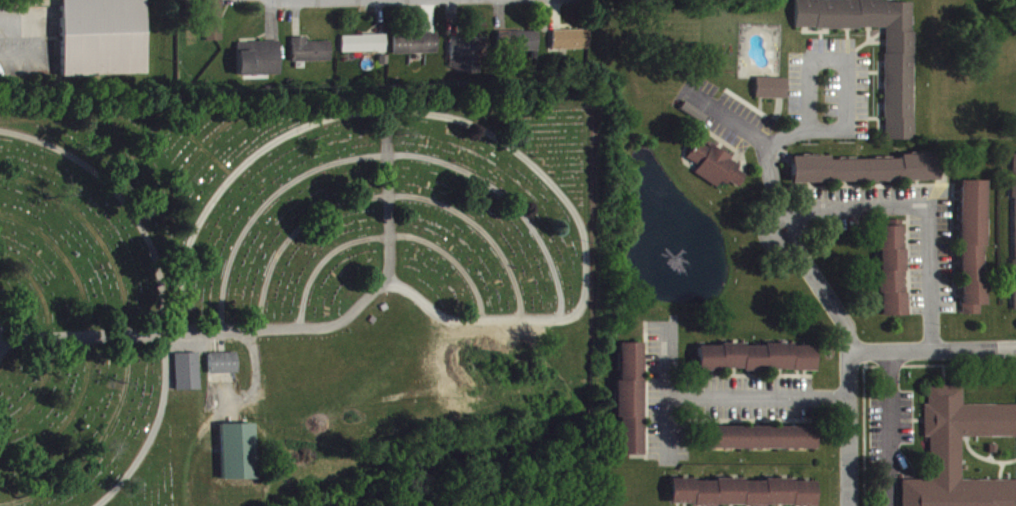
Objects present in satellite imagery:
building: (215, 25)
road: (22, 29)
building: (103, 36)
building: (524, 48)
building: (573, 48)
building: (366, 51)
building: (417, 52)
building: (314, 58)
building: (472, 60)
building: (262, 67)
building: (901, 92)
building: (773, 96)
road: (850, 117)
road: (739, 132)
building: (717, 174)
building: (867, 178)
building: (1015, 184)
road: (388, 196)
road: (565, 200)
road: (926, 208)
building: (976, 253)
park: (285, 277)
building: (894, 279)
road: (157, 287)
road: (89, 338)
road: (935, 349)
road: (854, 351)
building: (218, 360)
building: (757, 366)
building: (183, 368)
building: (223, 371)
road: (766, 408)
building: (632, 409)
road: (892, 428)
building: (760, 446)
building: (234, 449)
building: (960, 453)
building: (743, 497)

